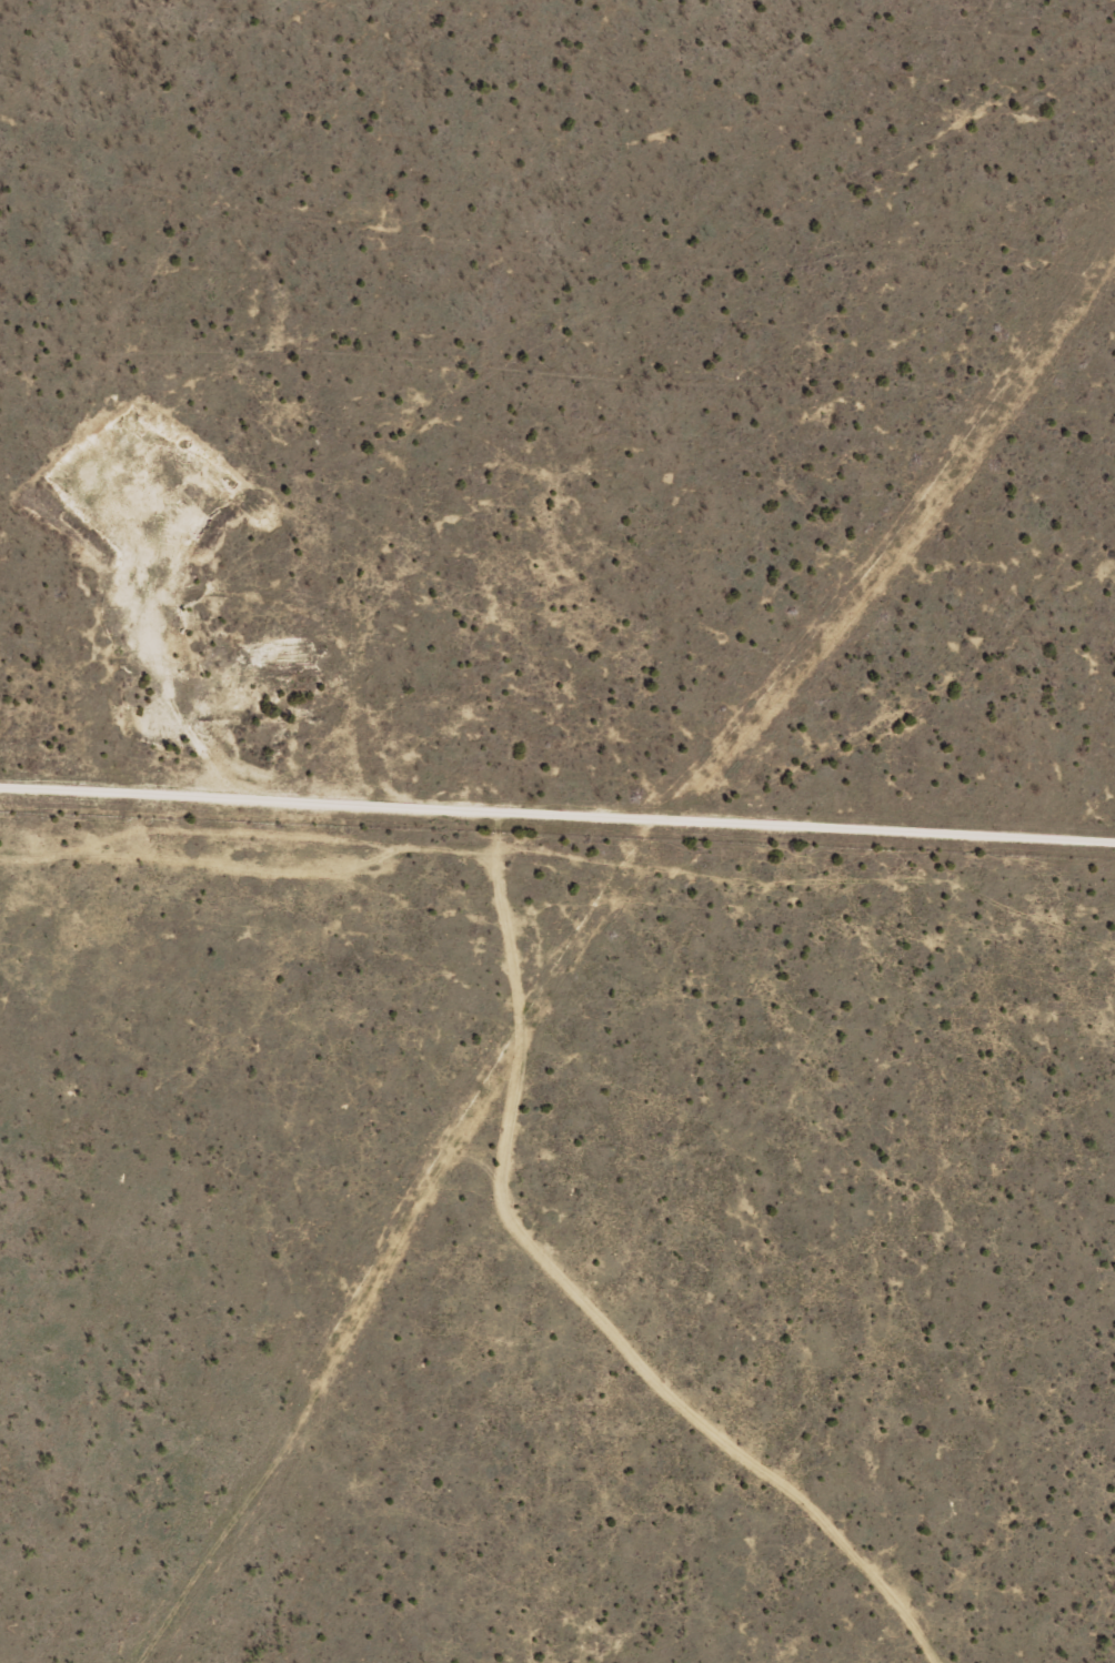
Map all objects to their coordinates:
road: (944, 698)
road: (555, 853)

